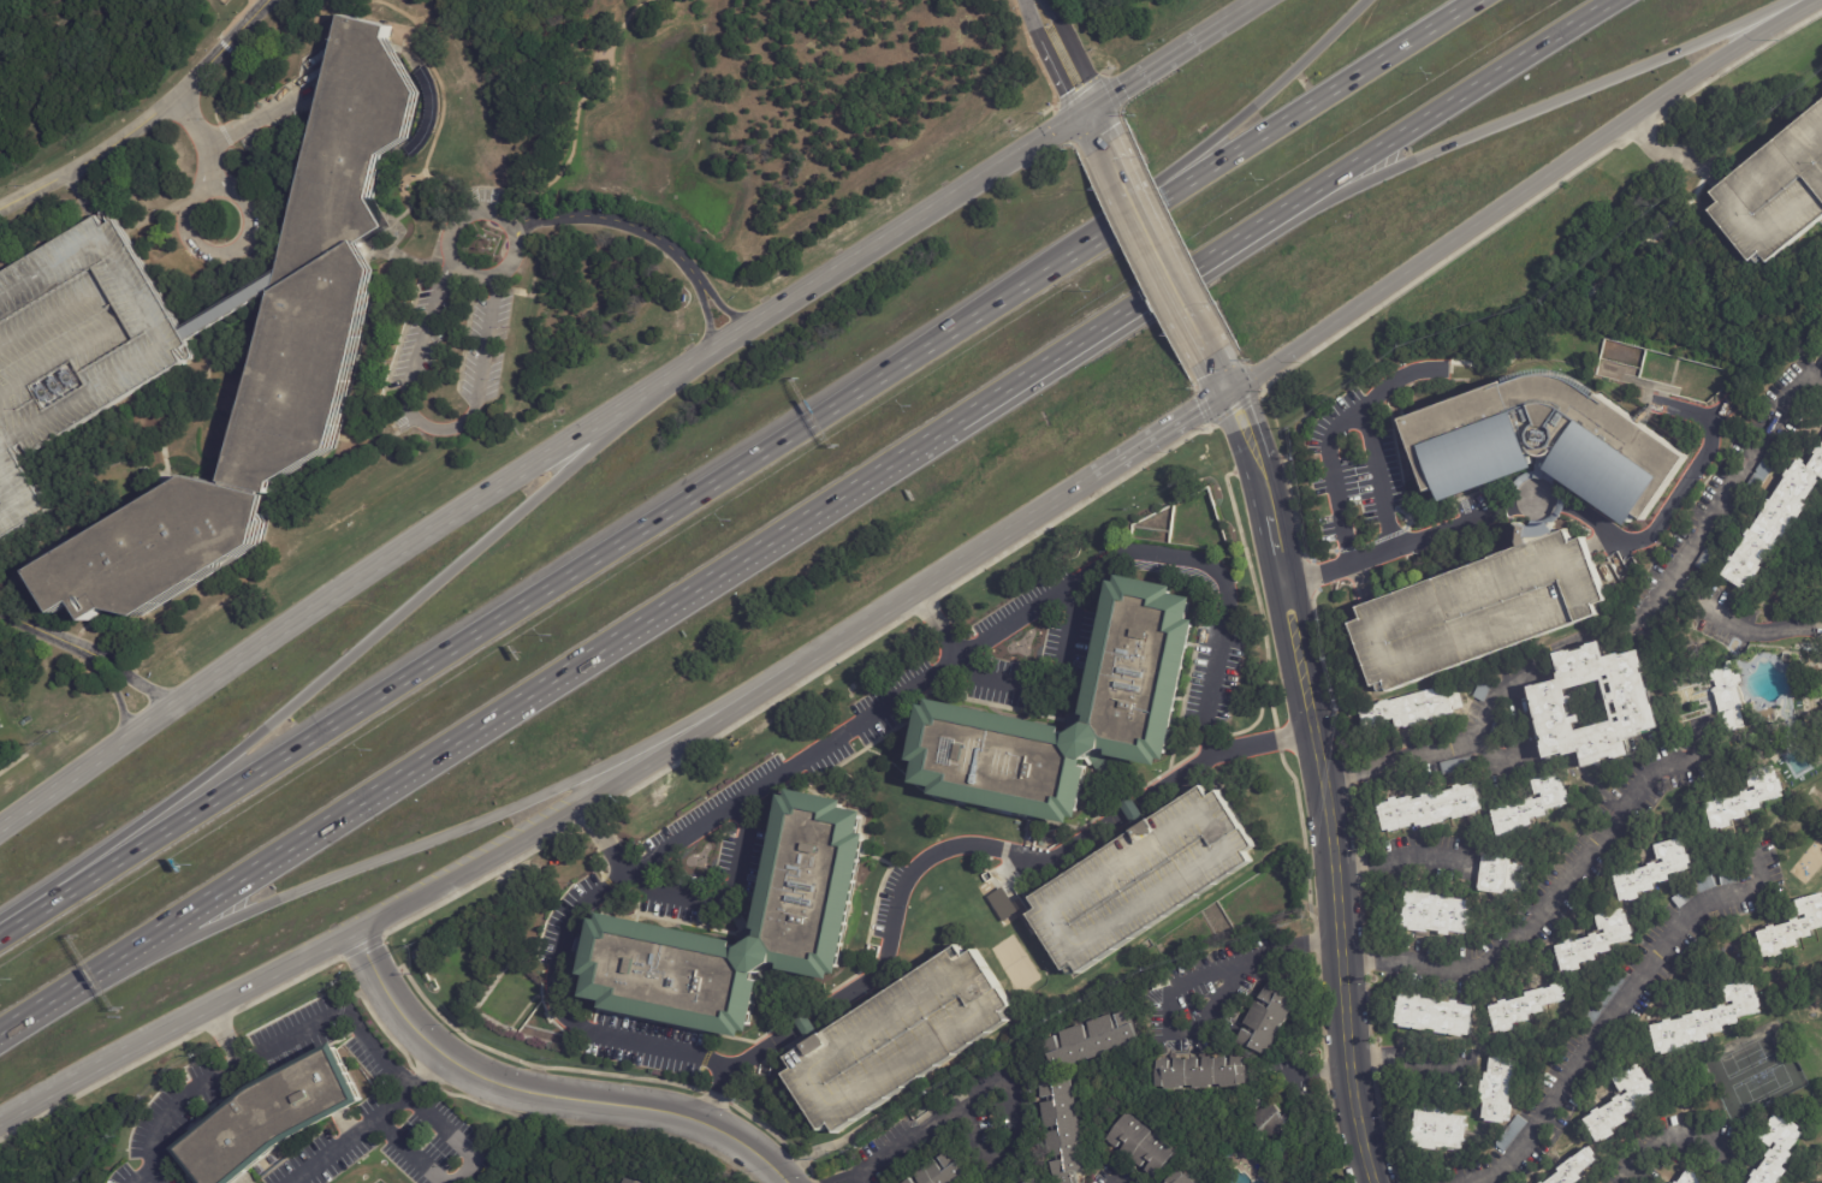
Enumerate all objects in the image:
road: (1247, 10)
road: (236, 19)
road: (1215, 30)
road: (225, 44)
road: (1063, 54)
road: (1145, 75)
road: (232, 84)
road: (265, 109)
traffic signals: (1092, 109)
road: (1240, 117)
road: (1429, 118)
road: (1517, 118)
road: (144, 119)
road: (1099, 126)
road: (226, 135)
road: (1673, 153)
building: (1773, 191)
road: (1520, 192)
road: (79, 195)
road: (260, 206)
road: (155, 218)
road: (623, 222)
road: (194, 243)
road: (1158, 250)
road: (453, 260)
road: (229, 309)
road: (726, 310)
road: (707, 322)
parking lot: (73, 349)
building: (269, 356)
traffic signals: (1228, 394)
road: (1631, 396)
road: (1721, 410)
road: (1345, 420)
road: (434, 427)
road: (1162, 436)
road: (539, 460)
road: (742, 462)
road: (170, 464)
building: (22, 477)
road: (1569, 509)
building: (1738, 510)
building: (1775, 521)
road: (1425, 534)
building: (1538, 534)
road: (950, 573)
road: (676, 604)
road: (927, 604)
parking lot: (1479, 610)
road: (1738, 628)
road: (41, 630)
building: (1152, 655)
road: (1536, 662)
road: (330, 673)
road: (133, 676)
road: (1014, 688)
building: (1482, 688)
road: (113, 691)
building: (1726, 694)
building: (1411, 707)
building: (1634, 708)
building: (0, 727)
road: (847, 730)
building: (1494, 730)
road: (1709, 751)
road: (1430, 755)
road: (1320, 763)
building: (1455, 765)
building: (1746, 799)
road: (584, 807)
building: (1430, 807)
building: (1530, 807)
road: (462, 830)
road: (954, 845)
road: (1402, 860)
park: (1809, 862)
building: (1652, 872)
building: (1498, 875)
building: (1147, 876)
building: (1728, 878)
building: (1693, 890)
road: (682, 893)
building: (1002, 904)
building: (815, 912)
building: (1435, 912)
building: (1793, 928)
road: (5, 932)
building: (1596, 941)
road: (1174, 985)
building: (1440, 986)
building: (1606, 997)
road: (54, 1004)
road: (1621, 1004)
building: (1524, 1007)
building: (1435, 1016)
building: (1265, 1019)
building: (1705, 1021)
road: (176, 1022)
road: (226, 1033)
building: (904, 1036)
building: (1088, 1039)
road: (1413, 1062)
park: (1753, 1070)
building: (1197, 1072)
road: (218, 1075)
building: (1498, 1088)
road: (550, 1096)
road: (417, 1099)
building: (1620, 1104)
building: (284, 1117)
road: (369, 1120)
building: (1270, 1120)
building: (1058, 1130)
building: (1437, 1130)
road: (1016, 1134)
building: (1509, 1134)
road: (1682, 1136)
building: (1140, 1145)
road: (405, 1151)
building: (1778, 1151)
road: (889, 1154)
building: (1574, 1167)
building: (951, 1171)
road: (141, 1176)
building: (1177, 1177)
building: (1692, 1178)
building: (1023, 1179)
building: (629, 1181)
building: (637, 1181)
building: (1676, 1182)

